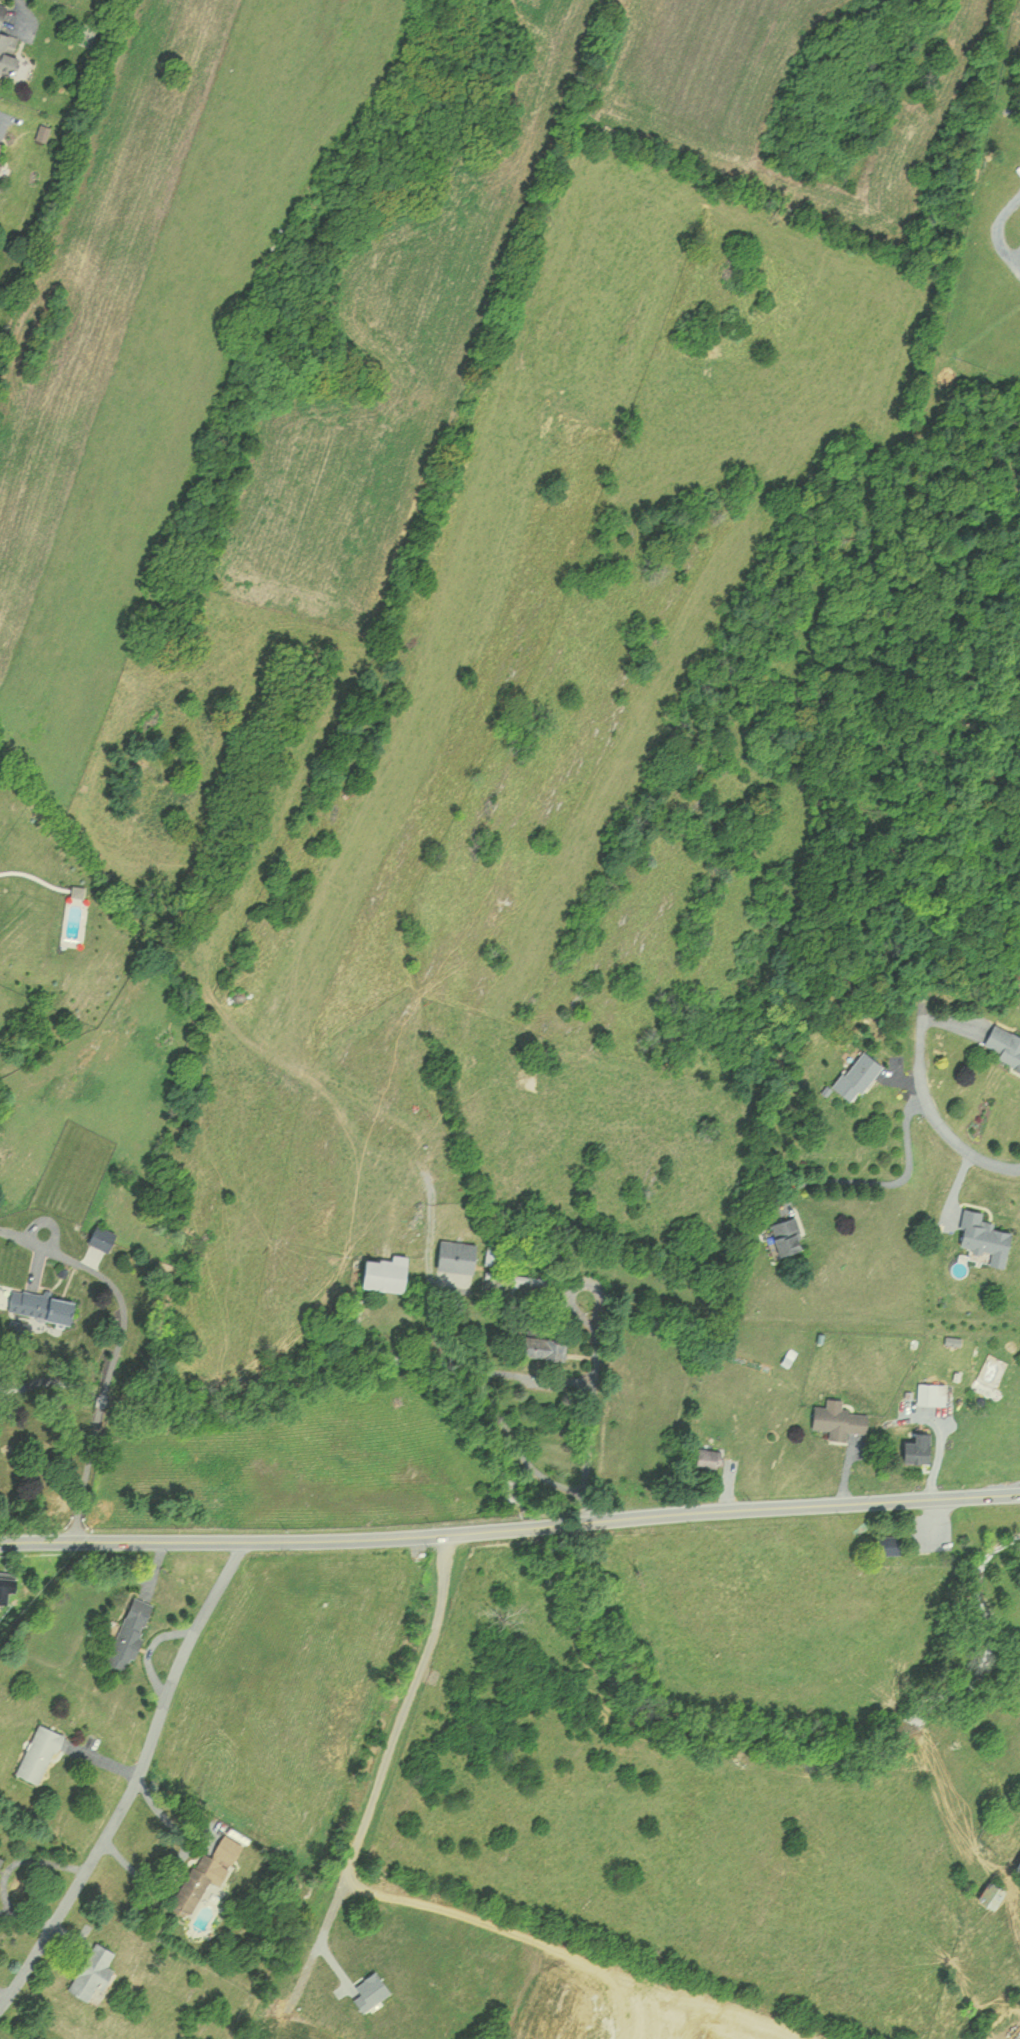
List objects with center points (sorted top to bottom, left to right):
road: (16, 6)
building: (1, 11)
building: (6, 51)
road: (994, 238)
building: (1005, 1045)
building: (856, 1075)
road: (933, 1114)
road: (887, 1184)
building: (785, 1235)
building: (100, 1237)
building: (455, 1255)
building: (383, 1272)
road: (74, 1298)
building: (36, 1304)
building: (542, 1346)
building: (931, 1393)
road: (100, 1408)
building: (839, 1421)
building: (915, 1448)
building: (708, 1457)
road: (85, 1481)
road: (788, 1505)
road: (548, 1524)
road: (269, 1539)
building: (129, 1632)
building: (37, 1753)
road: (379, 1771)
road: (136, 1780)
building: (0, 1858)
building: (1018, 1867)
building: (205, 1872)
building: (991, 1894)
building: (91, 1973)

